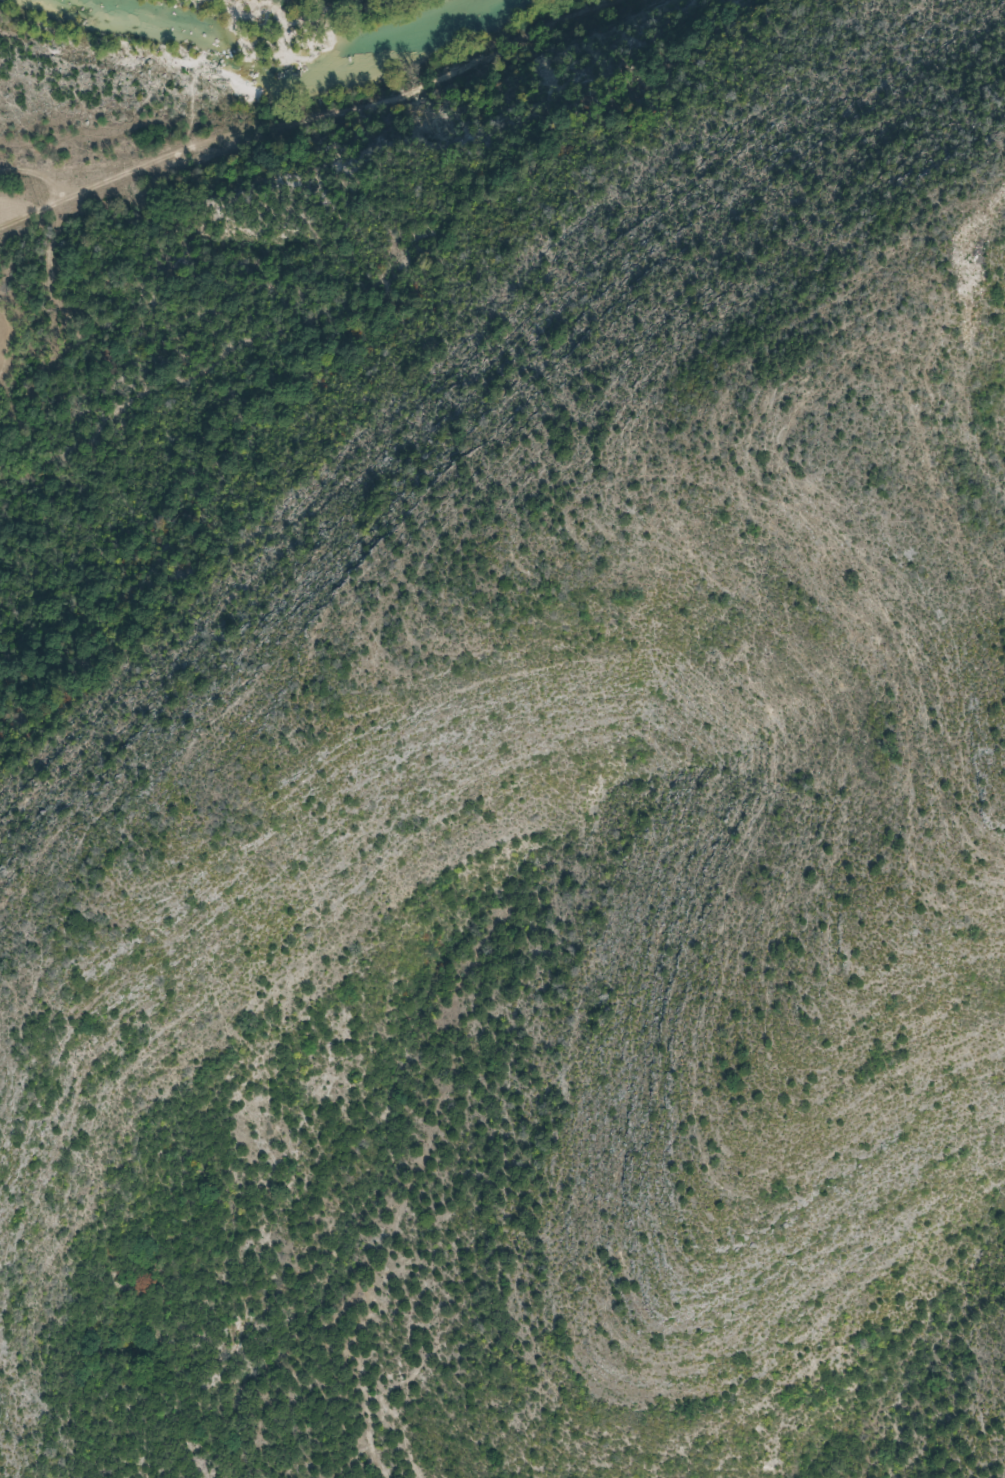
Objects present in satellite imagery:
river: (263, 53)

